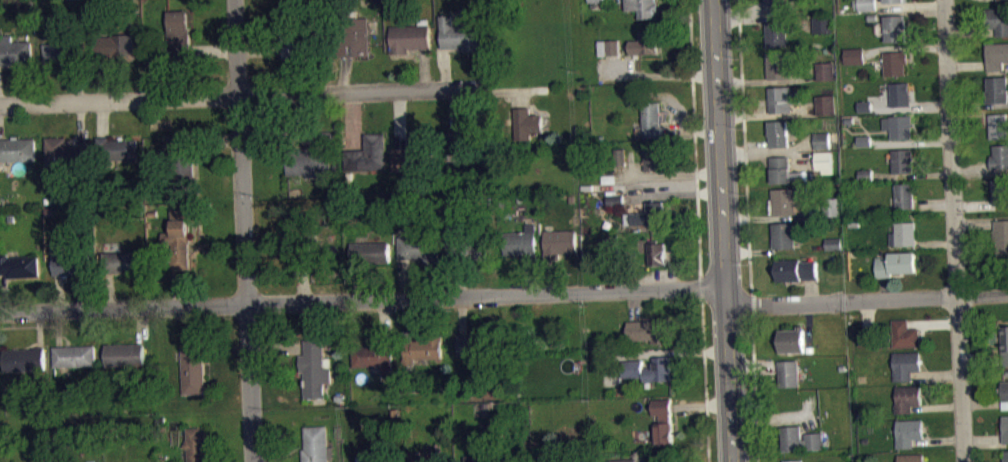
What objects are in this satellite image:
building: (1003, 0)
building: (595, 1)
building: (896, 1)
building: (774, 5)
building: (866, 5)
road: (910, 6)
building: (642, 8)
road: (739, 8)
road: (914, 12)
road: (746, 15)
building: (872, 16)
road: (765, 19)
building: (998, 20)
building: (823, 23)
building: (293, 29)
building: (896, 30)
road: (972, 32)
building: (778, 33)
building: (178, 35)
building: (459, 36)
building: (354, 37)
road: (691, 38)
building: (409, 39)
building: (645, 43)
building: (116, 47)
building: (608, 47)
road: (905, 47)
road: (212, 50)
building: (14, 51)
building: (64, 51)
road: (259, 51)
building: (856, 55)
building: (997, 55)
building: (896, 62)
building: (778, 64)
road: (968, 66)
road: (446, 68)
road: (424, 69)
building: (825, 70)
road: (345, 74)
road: (656, 76)
road: (100, 79)
road: (768, 81)
road: (78, 82)
building: (998, 89)
road: (508, 90)
building: (902, 92)
road: (240, 95)
building: (783, 98)
building: (825, 103)
road: (978, 104)
building: (865, 106)
road: (910, 107)
road: (453, 109)
building: (865, 113)
road: (769, 116)
road: (103, 119)
road: (400, 119)
road: (354, 120)
building: (653, 121)
building: (527, 122)
road: (81, 124)
building: (900, 125)
building: (999, 125)
building: (793, 126)
road: (278, 130)
road: (693, 131)
building: (779, 132)
road: (217, 140)
building: (822, 140)
building: (864, 140)
road: (911, 140)
building: (466, 142)
building: (865, 147)
building: (117, 149)
building: (588, 149)
road: (768, 149)
building: (17, 150)
building: (368, 153)
building: (416, 153)
building: (65, 154)
building: (155, 154)
building: (620, 155)
road: (746, 155)
road: (768, 155)
building: (312, 156)
building: (1000, 156)
building: (655, 158)
building: (903, 159)
building: (823, 160)
building: (181, 163)
building: (784, 170)
road: (973, 171)
building: (866, 174)
road: (669, 175)
road: (697, 175)
road: (912, 175)
building: (609, 178)
building: (1000, 190)
road: (673, 194)
building: (906, 194)
building: (615, 199)
building: (785, 200)
road: (934, 202)
road: (974, 204)
building: (832, 206)
building: (648, 214)
road: (775, 217)
road: (975, 223)
road: (244, 230)
road: (724, 230)
road: (954, 230)
building: (305, 233)
building: (904, 233)
building: (785, 234)
building: (1002, 236)
building: (180, 237)
building: (522, 242)
building: (560, 242)
building: (608, 243)
building: (834, 243)
road: (937, 243)
building: (420, 247)
building: (468, 249)
building: (834, 249)
building: (370, 251)
road: (758, 251)
building: (657, 252)
building: (124, 262)
building: (896, 262)
building: (71, 263)
building: (303, 263)
building: (19, 266)
building: (796, 269)
road: (552, 275)
road: (529, 277)
road: (405, 278)
road: (456, 278)
road: (356, 281)
road: (304, 282)
road: (701, 285)
road: (182, 287)
road: (885, 287)
road: (810, 290)
road: (111, 291)
road: (60, 292)
road: (3, 293)
road: (505, 295)
road: (2, 297)
road: (752, 304)
road: (634, 305)
road: (867, 314)
road: (462, 315)
road: (385, 317)
road: (406, 318)
road: (807, 322)
road: (933, 322)
road: (141, 325)
road: (31, 326)
road: (40, 328)
road: (58, 328)
building: (648, 330)
building: (904, 334)
building: (866, 337)
building: (791, 339)
building: (1005, 343)
building: (477, 344)
road: (277, 348)
building: (424, 348)
road: (227, 349)
road: (673, 351)
building: (375, 355)
building: (75, 356)
building: (127, 356)
road: (981, 358)
building: (24, 360)
road: (749, 361)
building: (907, 363)
building: (193, 367)
building: (316, 368)
building: (647, 369)
building: (787, 372)
road: (937, 373)
road: (704, 379)
road: (754, 388)
building: (1005, 389)
building: (908, 396)
road: (701, 404)
road: (985, 405)
road: (937, 407)
road: (778, 417)
building: (663, 420)
road: (808, 421)
building: (1005, 428)
building: (909, 431)
building: (801, 438)
road: (938, 441)
road: (982, 442)
building: (197, 444)
building: (317, 444)
building: (382, 455)
building: (424, 456)
building: (1006, 456)
building: (911, 457)
building: (469, 458)
building: (625, 459)
building: (792, 460)
building: (497, 461)

